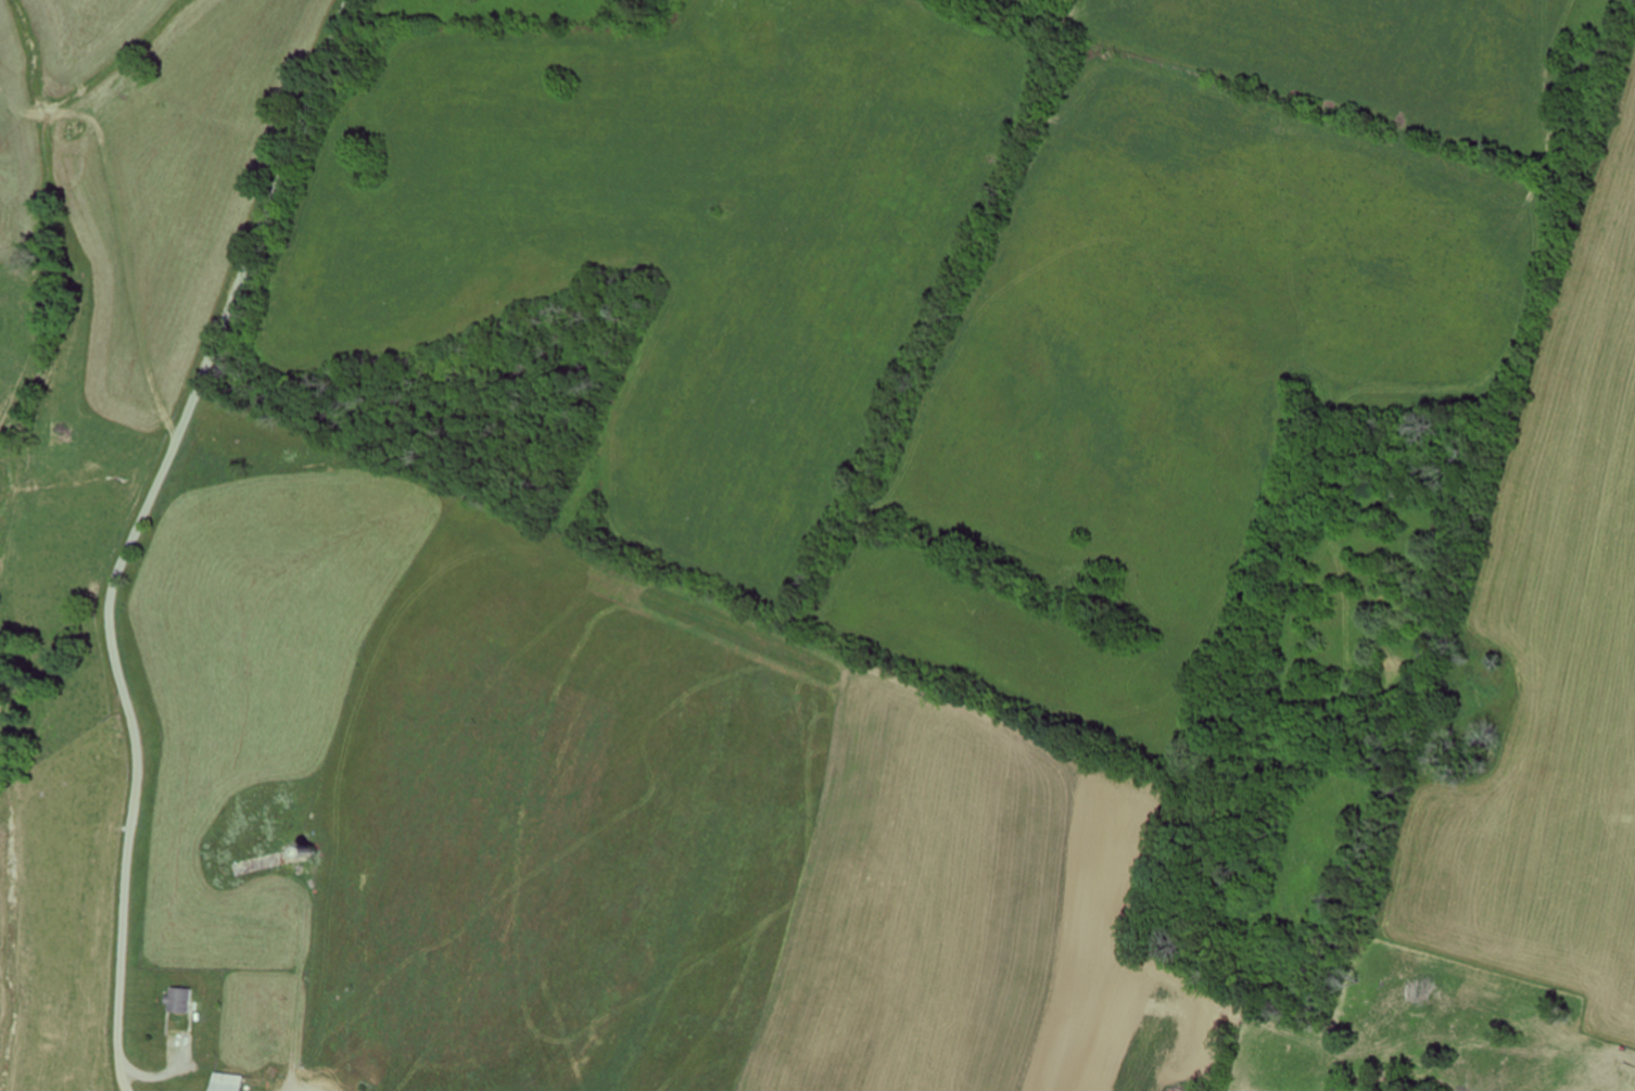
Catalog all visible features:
road: (233, 295)
building: (181, 999)
building: (232, 1081)
building: (167, 1088)

